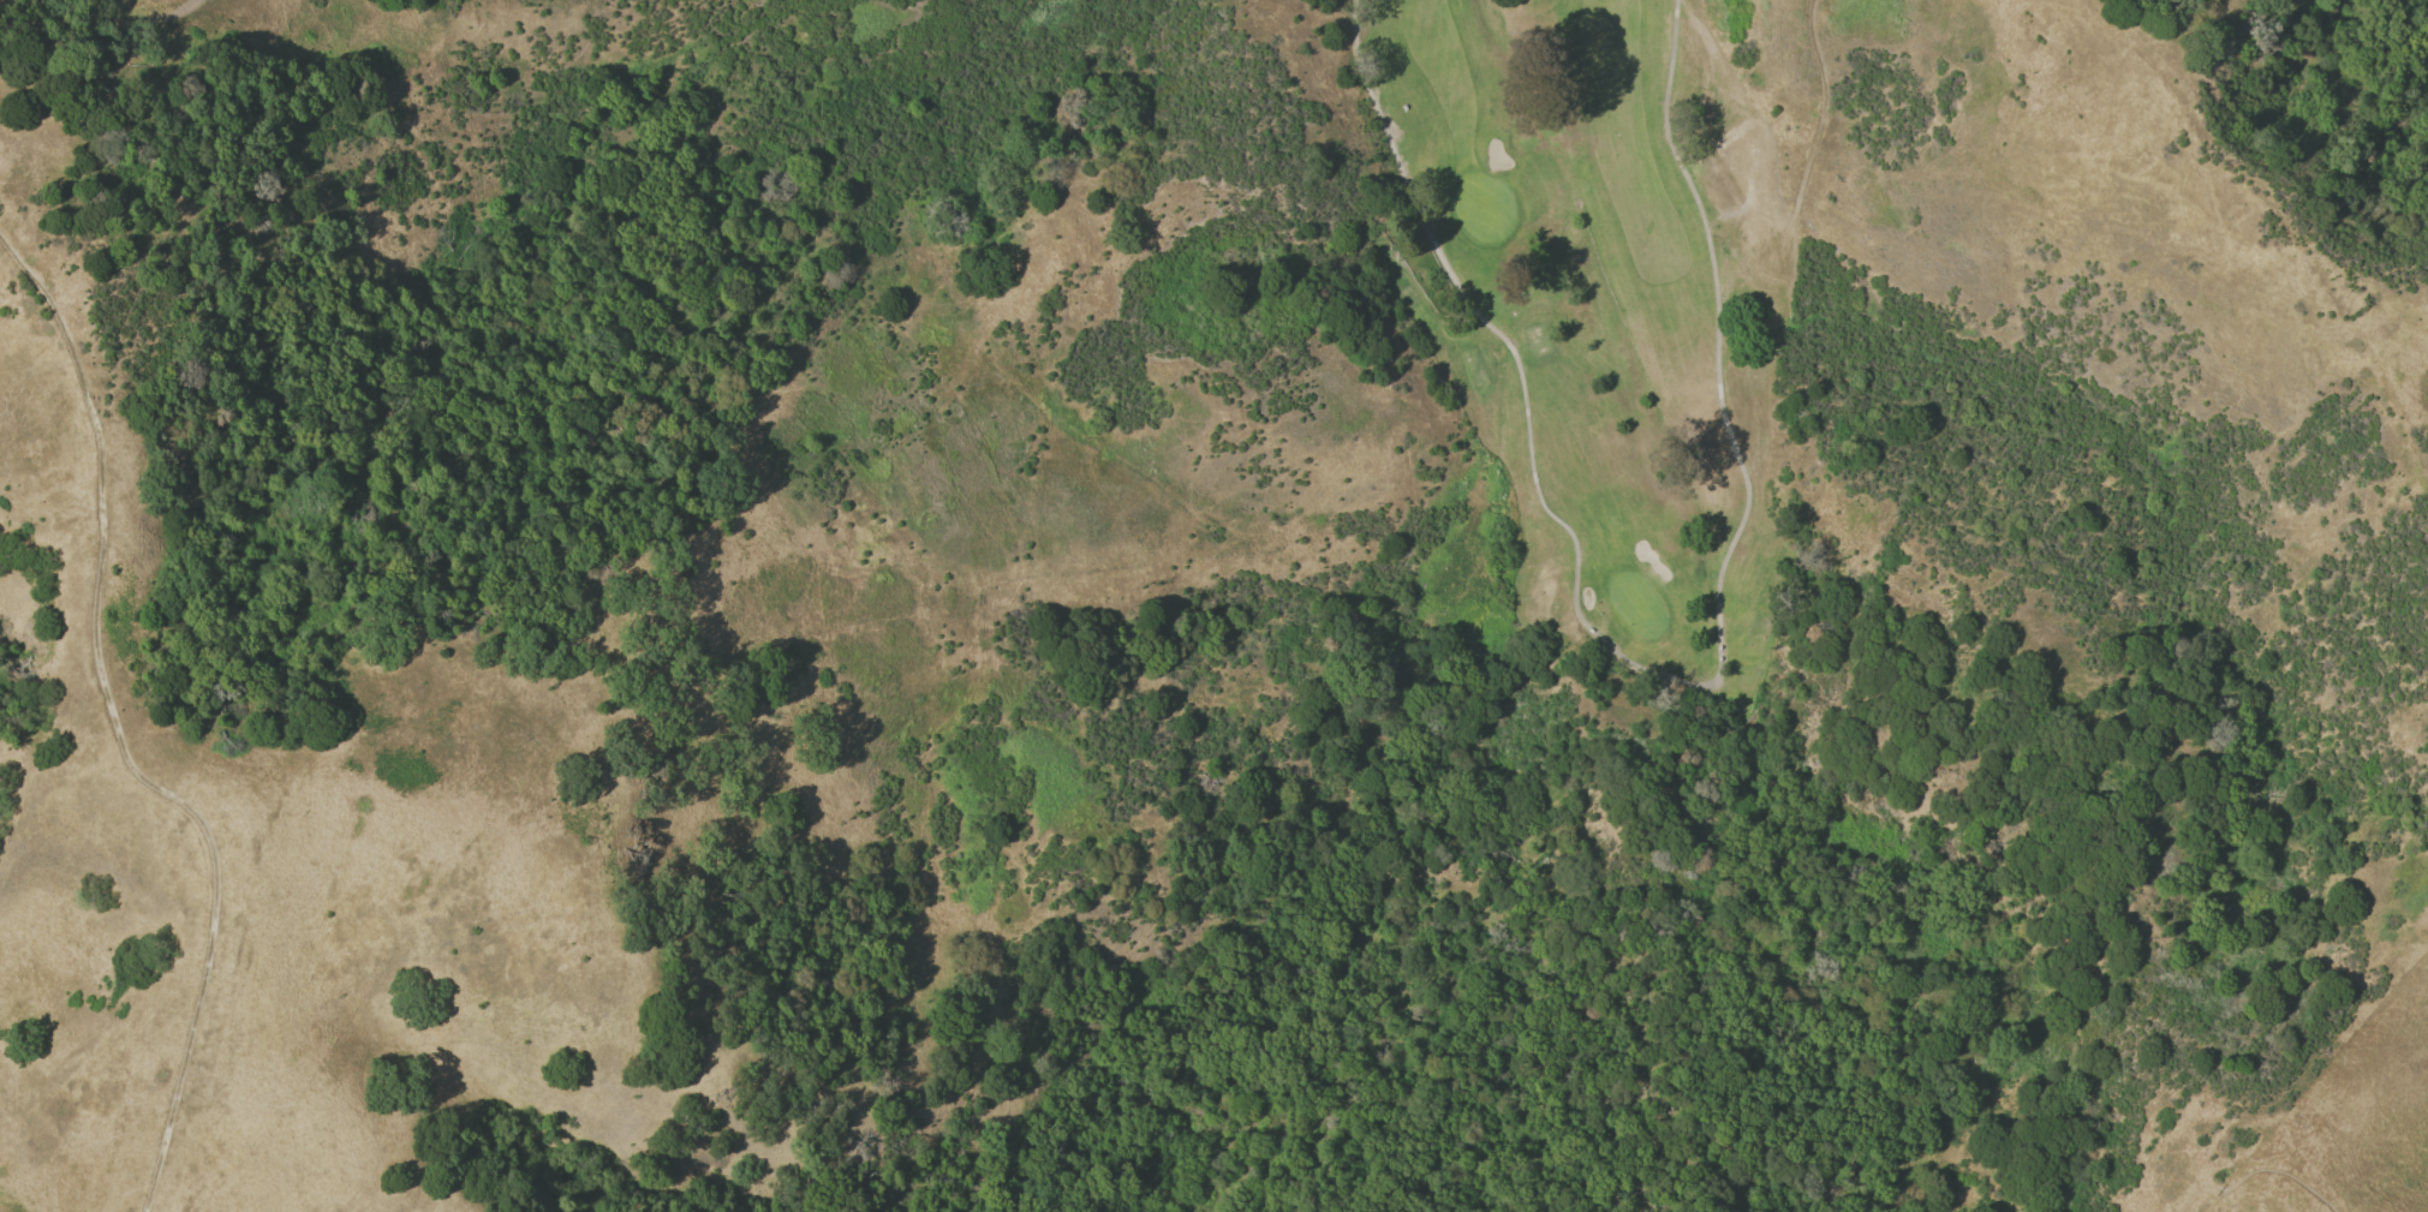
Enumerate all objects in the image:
road: (96, 14)
park: (1588, 311)
road: (1517, 371)
road: (115, 733)
road: (2255, 1168)

